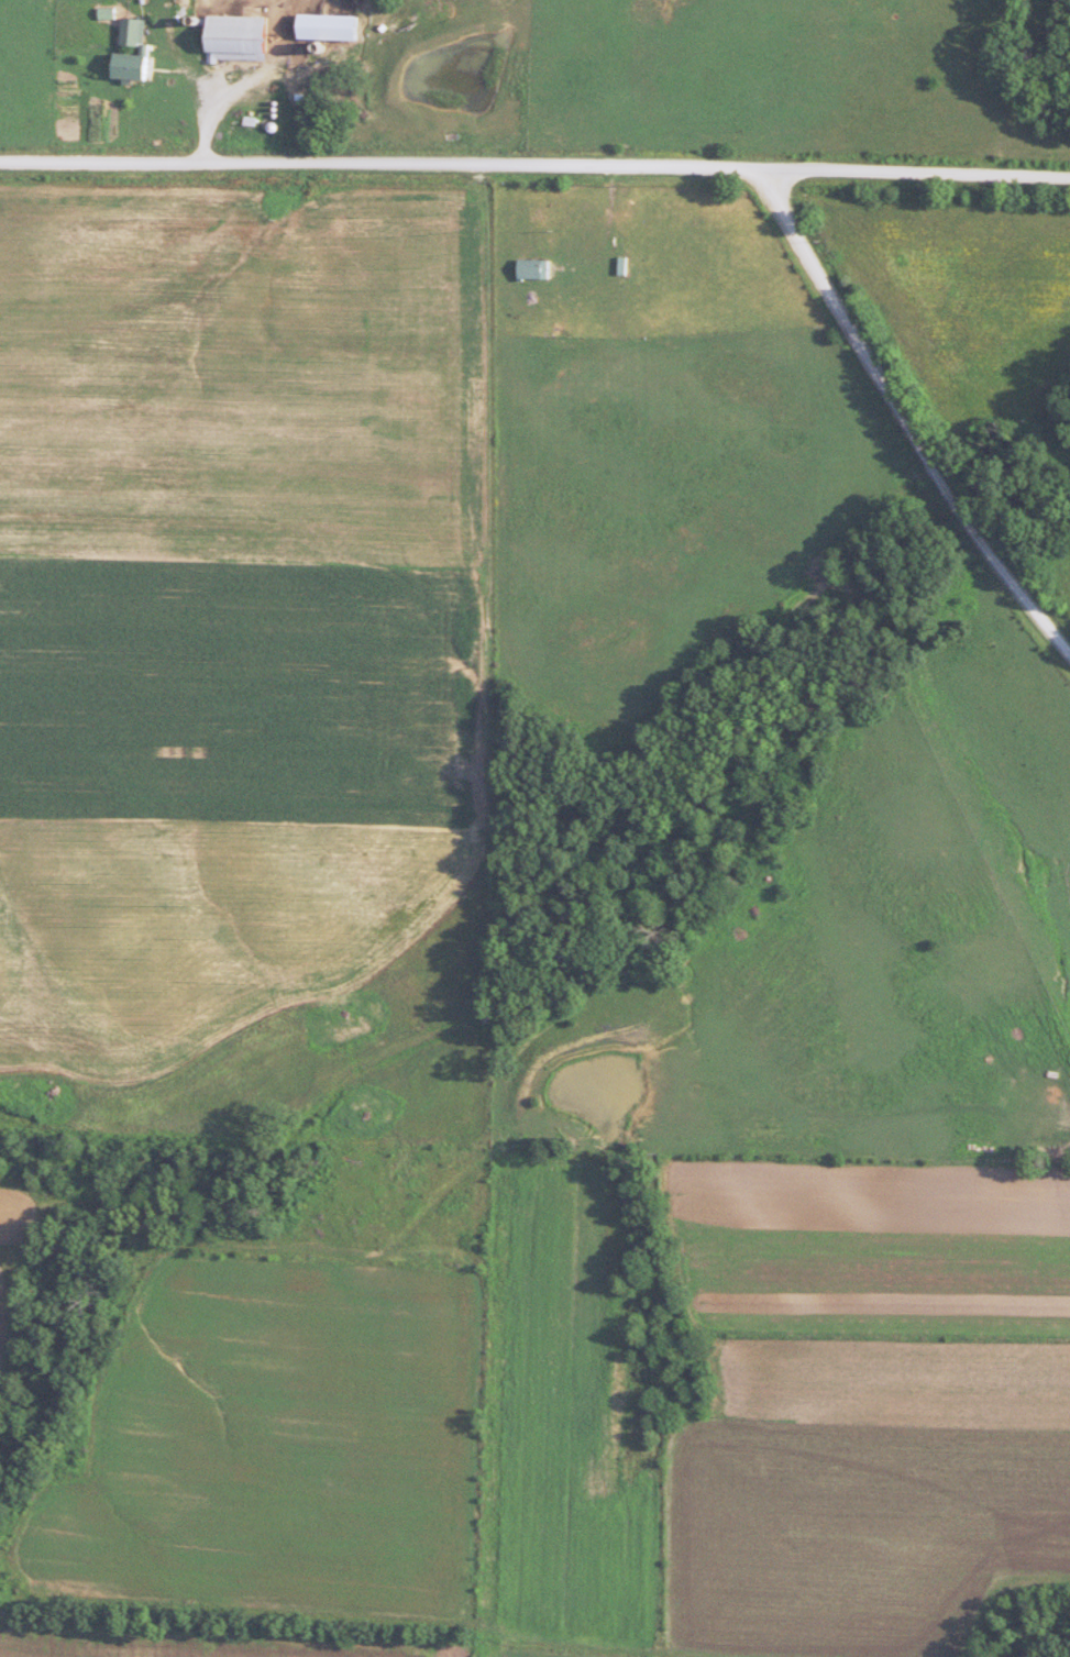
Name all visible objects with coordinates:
building: (245, 36)
building: (152, 48)
road: (284, 82)
road: (534, 168)
building: (539, 269)
road: (903, 423)

